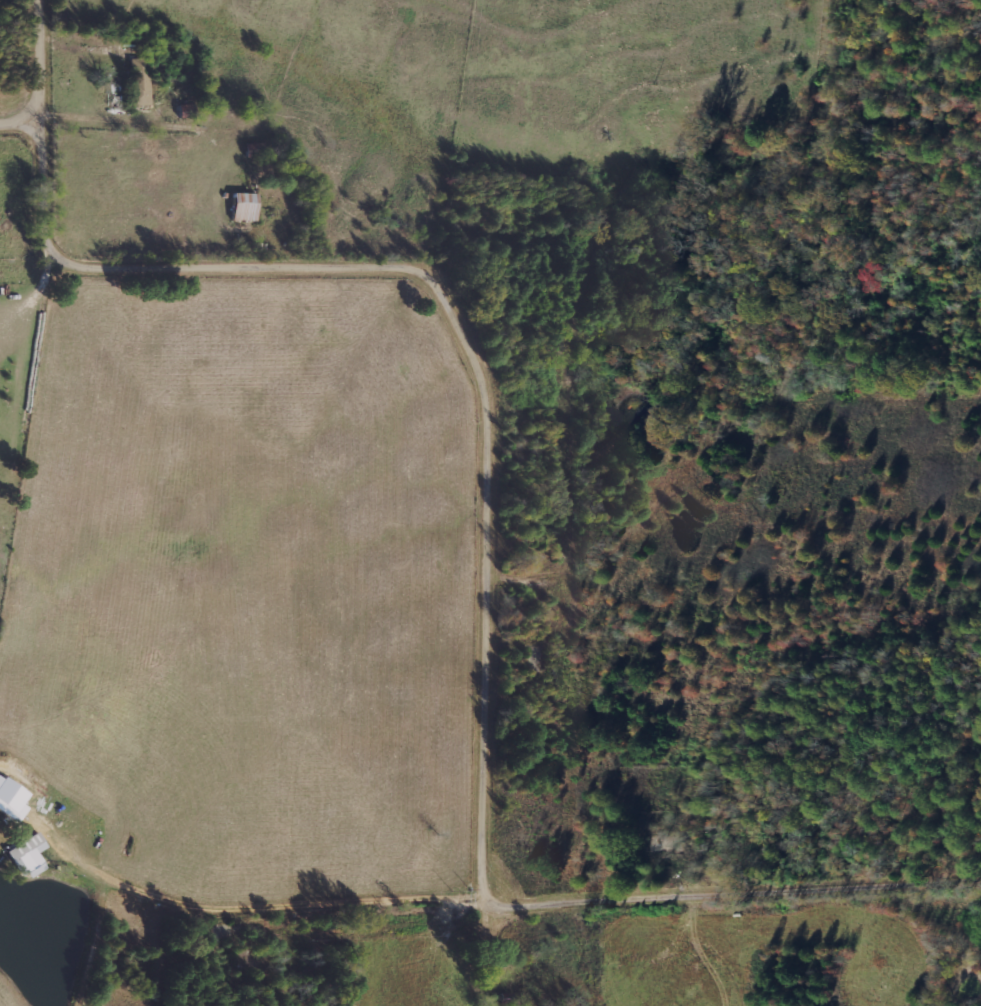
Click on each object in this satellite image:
road: (46, 77)
building: (139, 88)
building: (241, 206)
road: (460, 330)
road: (726, 780)
building: (26, 856)
road: (746, 897)
road: (494, 946)

